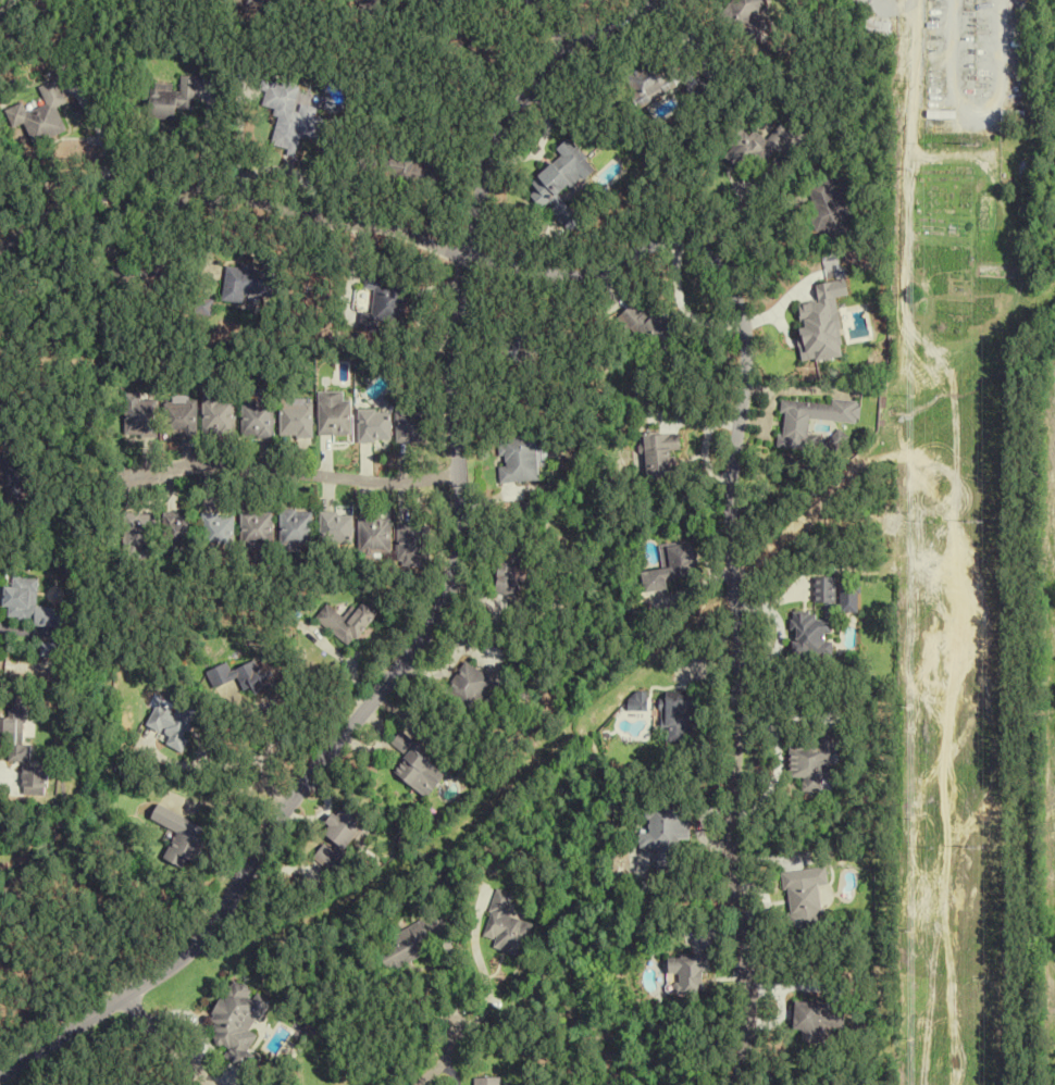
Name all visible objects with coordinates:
building: (368, 4)
building: (740, 15)
road: (545, 24)
building: (480, 46)
building: (690, 73)
building: (648, 80)
building: (172, 98)
building: (39, 114)
building: (289, 116)
building: (1017, 117)
road: (96, 130)
power tower: (973, 144)
building: (757, 149)
building: (413, 164)
building: (559, 185)
road: (226, 194)
building: (831, 208)
building: (140, 272)
building: (243, 283)
building: (381, 303)
building: (649, 325)
building: (333, 414)
building: (138, 415)
building: (218, 415)
building: (182, 416)
building: (257, 419)
building: (812, 420)
building: (295, 421)
building: (411, 423)
building: (373, 425)
building: (662, 456)
building: (518, 458)
building: (11, 473)
road: (294, 473)
power tower: (975, 522)
building: (335, 527)
building: (257, 528)
building: (296, 529)
building: (139, 531)
building: (181, 531)
building: (219, 531)
building: (375, 536)
road: (729, 539)
building: (413, 541)
building: (672, 568)
building: (509, 573)
road: (443, 587)
building: (30, 604)
building: (348, 621)
building: (821, 623)
building: (245, 677)
building: (468, 688)
building: (680, 716)
building: (172, 723)
building: (13, 739)
building: (821, 761)
building: (417, 768)
building: (35, 781)
building: (0, 825)
building: (667, 834)
building: (177, 836)
building: (338, 837)
power tower: (976, 847)
building: (810, 896)
building: (502, 926)
building: (405, 945)
building: (694, 975)
building: (236, 1019)
building: (820, 1024)
road: (156, 1044)
road: (440, 1057)
building: (485, 1081)

